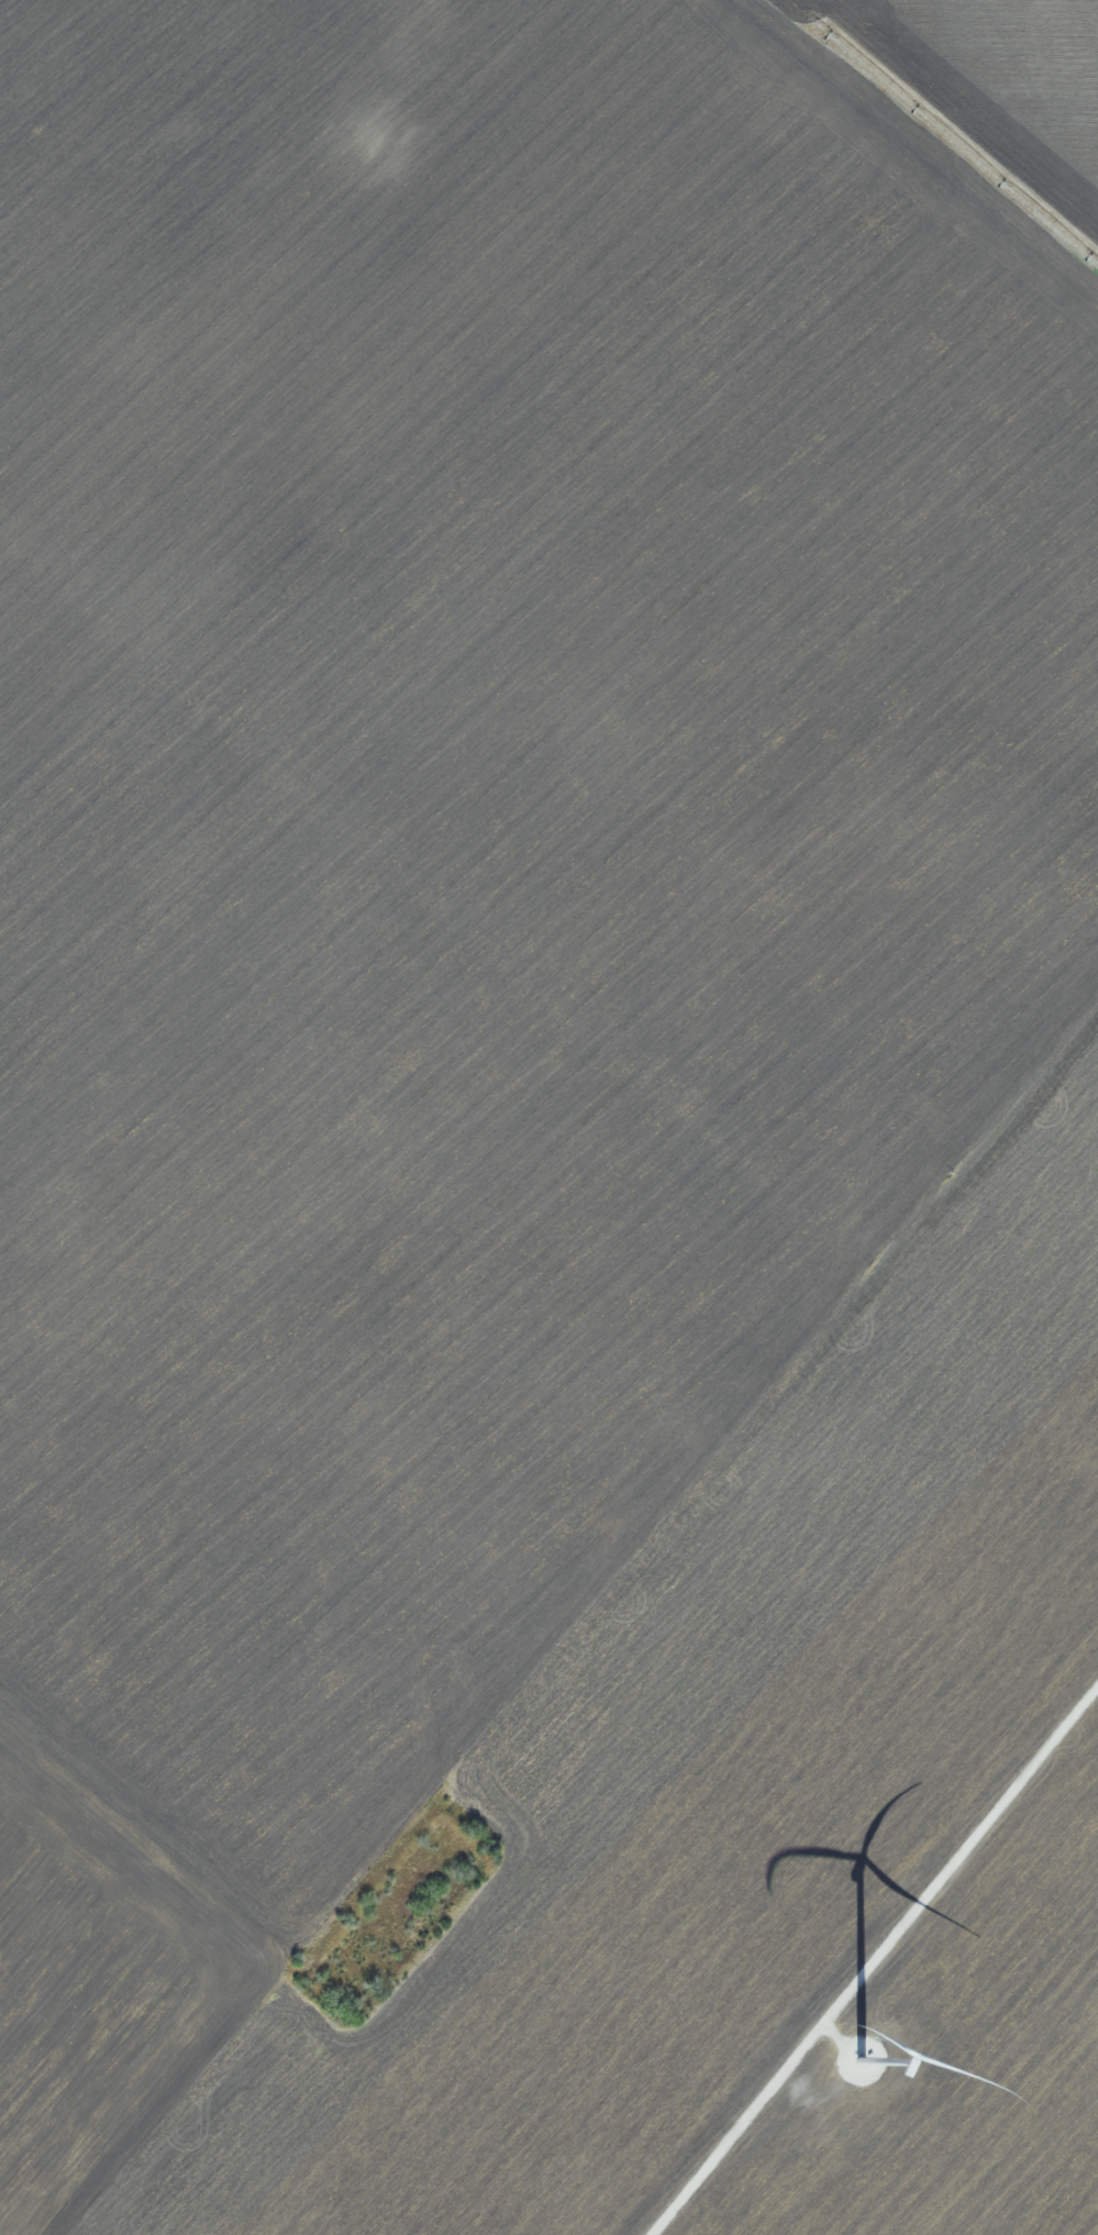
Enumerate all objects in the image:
wind turbine: (859, 2048)

